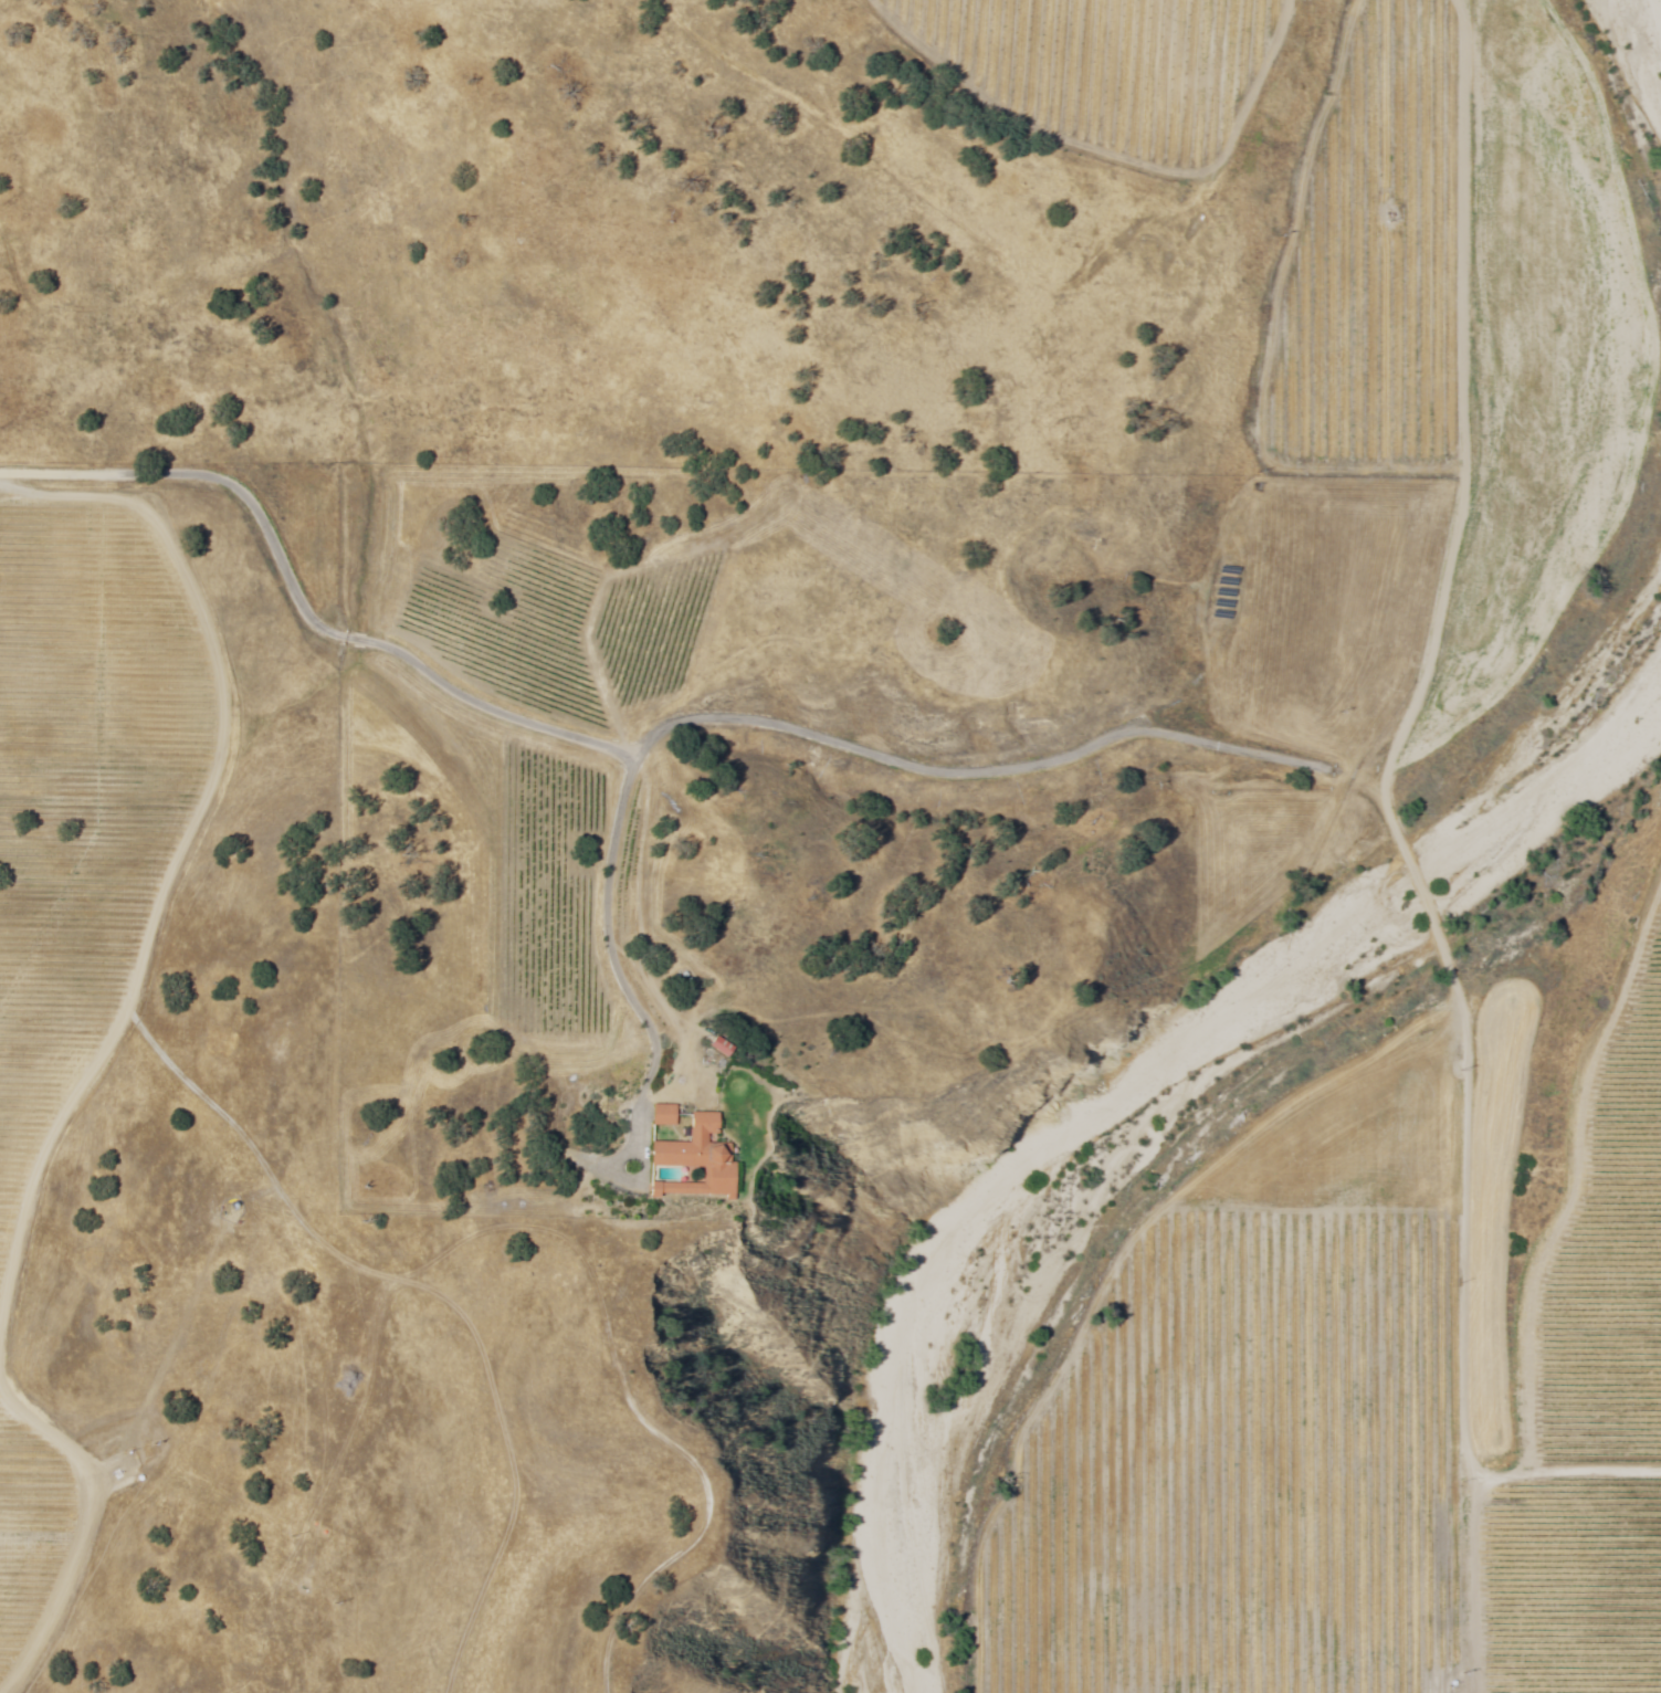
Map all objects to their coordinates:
river: (1646, 40)
crop: (1100, 72)
road: (484, 706)
road: (974, 774)
building: (715, 1047)
building: (725, 1049)
river: (1137, 1097)
building: (666, 1116)
building: (698, 1161)
crop: (1604, 1247)
crop: (1566, 1589)

